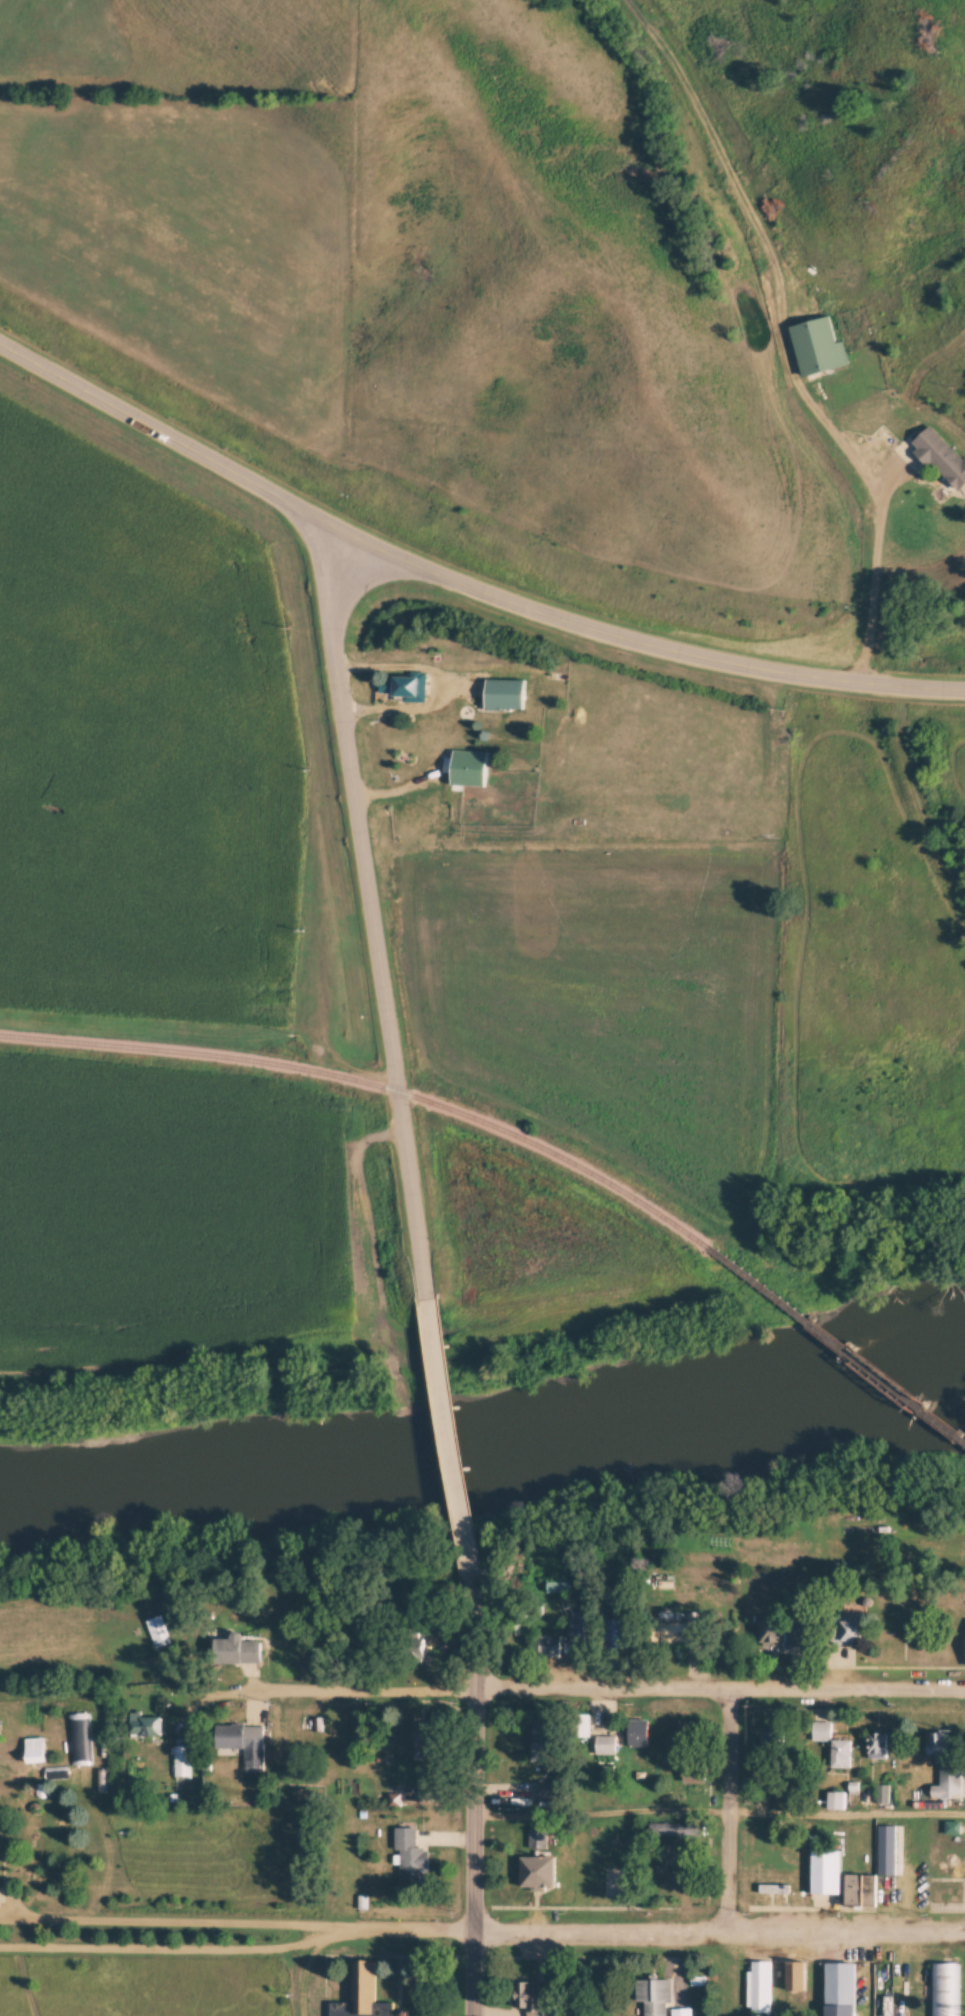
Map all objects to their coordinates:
building: (818, 347)
building: (942, 457)
road: (875, 566)
road: (459, 582)
road: (442, 683)
building: (407, 686)
building: (505, 694)
building: (470, 768)
road: (371, 915)
railway: (372, 1085)
railway: (837, 1346)
road: (438, 1380)
river: (590, 1447)
river: (103, 1503)
road: (457, 1515)
building: (581, 1628)
building: (158, 1631)
building: (774, 1631)
building: (851, 1631)
building: (682, 1632)
building: (616, 1634)
building: (437, 1637)
building: (804, 1637)
building: (550, 1646)
building: (238, 1650)
road: (574, 1680)
building: (145, 1727)
building: (822, 1731)
building: (507, 1732)
building: (684, 1733)
building: (639, 1734)
building: (426, 1737)
building: (78, 1739)
building: (542, 1741)
building: (775, 1742)
building: (244, 1743)
building: (606, 1745)
building: (877, 1746)
building: (939, 1747)
building: (35, 1750)
building: (842, 1754)
building: (182, 1761)
building: (694, 1770)
building: (951, 1778)
road: (469, 1792)
building: (883, 1795)
road: (725, 1806)
building: (675, 1830)
building: (537, 1839)
building: (411, 1858)
building: (826, 1871)
building: (538, 1872)
building: (775, 1889)
building: (861, 1890)
road: (482, 1929)
road: (180, 1949)
building: (797, 1975)
building: (841, 1984)
building: (760, 1987)
building: (944, 1989)
building: (363, 1995)
building: (655, 1996)
building: (900, 1996)
building: (530, 1997)

